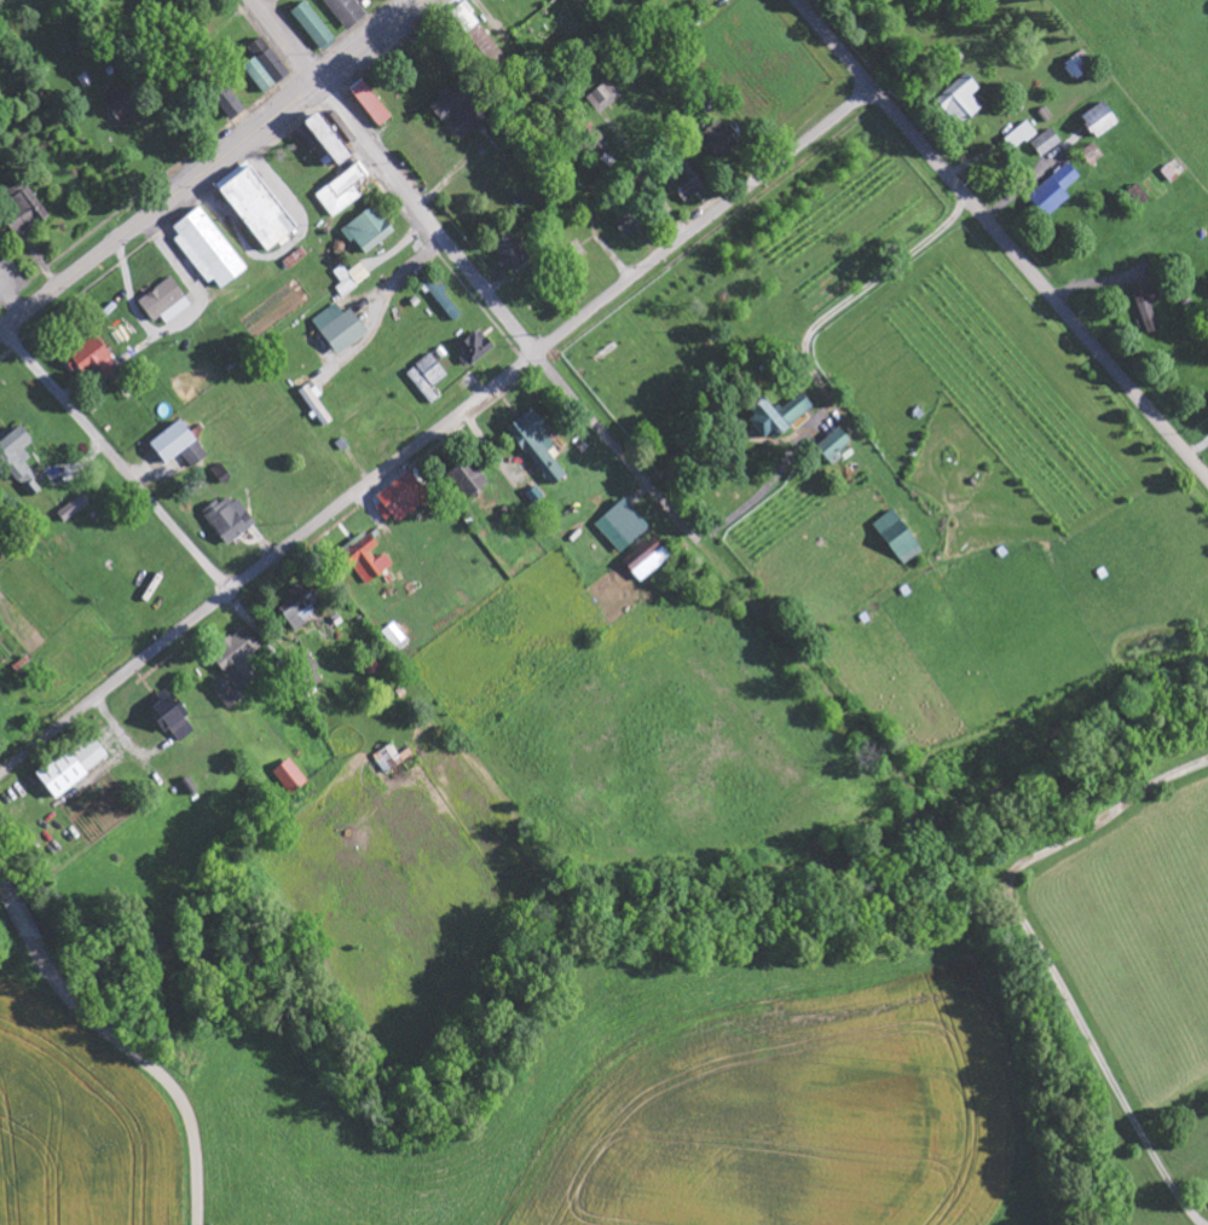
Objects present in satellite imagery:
building: (347, 12)
building: (466, 18)
building: (314, 28)
road: (287, 40)
road: (372, 41)
building: (1080, 65)
building: (265, 67)
building: (605, 98)
building: (961, 100)
building: (230, 104)
building: (371, 104)
building: (123, 106)
building: (458, 110)
building: (1100, 121)
building: (1021, 137)
building: (322, 139)
building: (721, 143)
building: (1047, 143)
building: (688, 181)
building: (342, 191)
building: (1056, 192)
building: (1139, 197)
road: (160, 206)
building: (258, 207)
building: (25, 209)
building: (632, 220)
road: (705, 223)
building: (370, 231)
road: (1001, 241)
building: (209, 249)
building: (511, 252)
building: (352, 278)
building: (444, 299)
building: (166, 302)
building: (1149, 306)
building: (341, 329)
road: (514, 330)
building: (476, 347)
building: (93, 360)
building: (429, 377)
building: (779, 416)
building: (179, 446)
building: (538, 446)
building: (836, 449)
building: (21, 462)
road: (114, 462)
building: (222, 474)
building: (469, 479)
building: (404, 498)
building: (74, 509)
building: (230, 520)
building: (622, 528)
building: (900, 538)
building: (366, 560)
building: (647, 560)
road: (267, 564)
building: (300, 607)
building: (395, 636)
building: (238, 660)
building: (305, 675)
building: (227, 695)
building: (170, 717)
building: (89, 752)
building: (393, 759)
building: (62, 775)
building: (291, 778)
road: (1123, 912)
road: (122, 1040)

